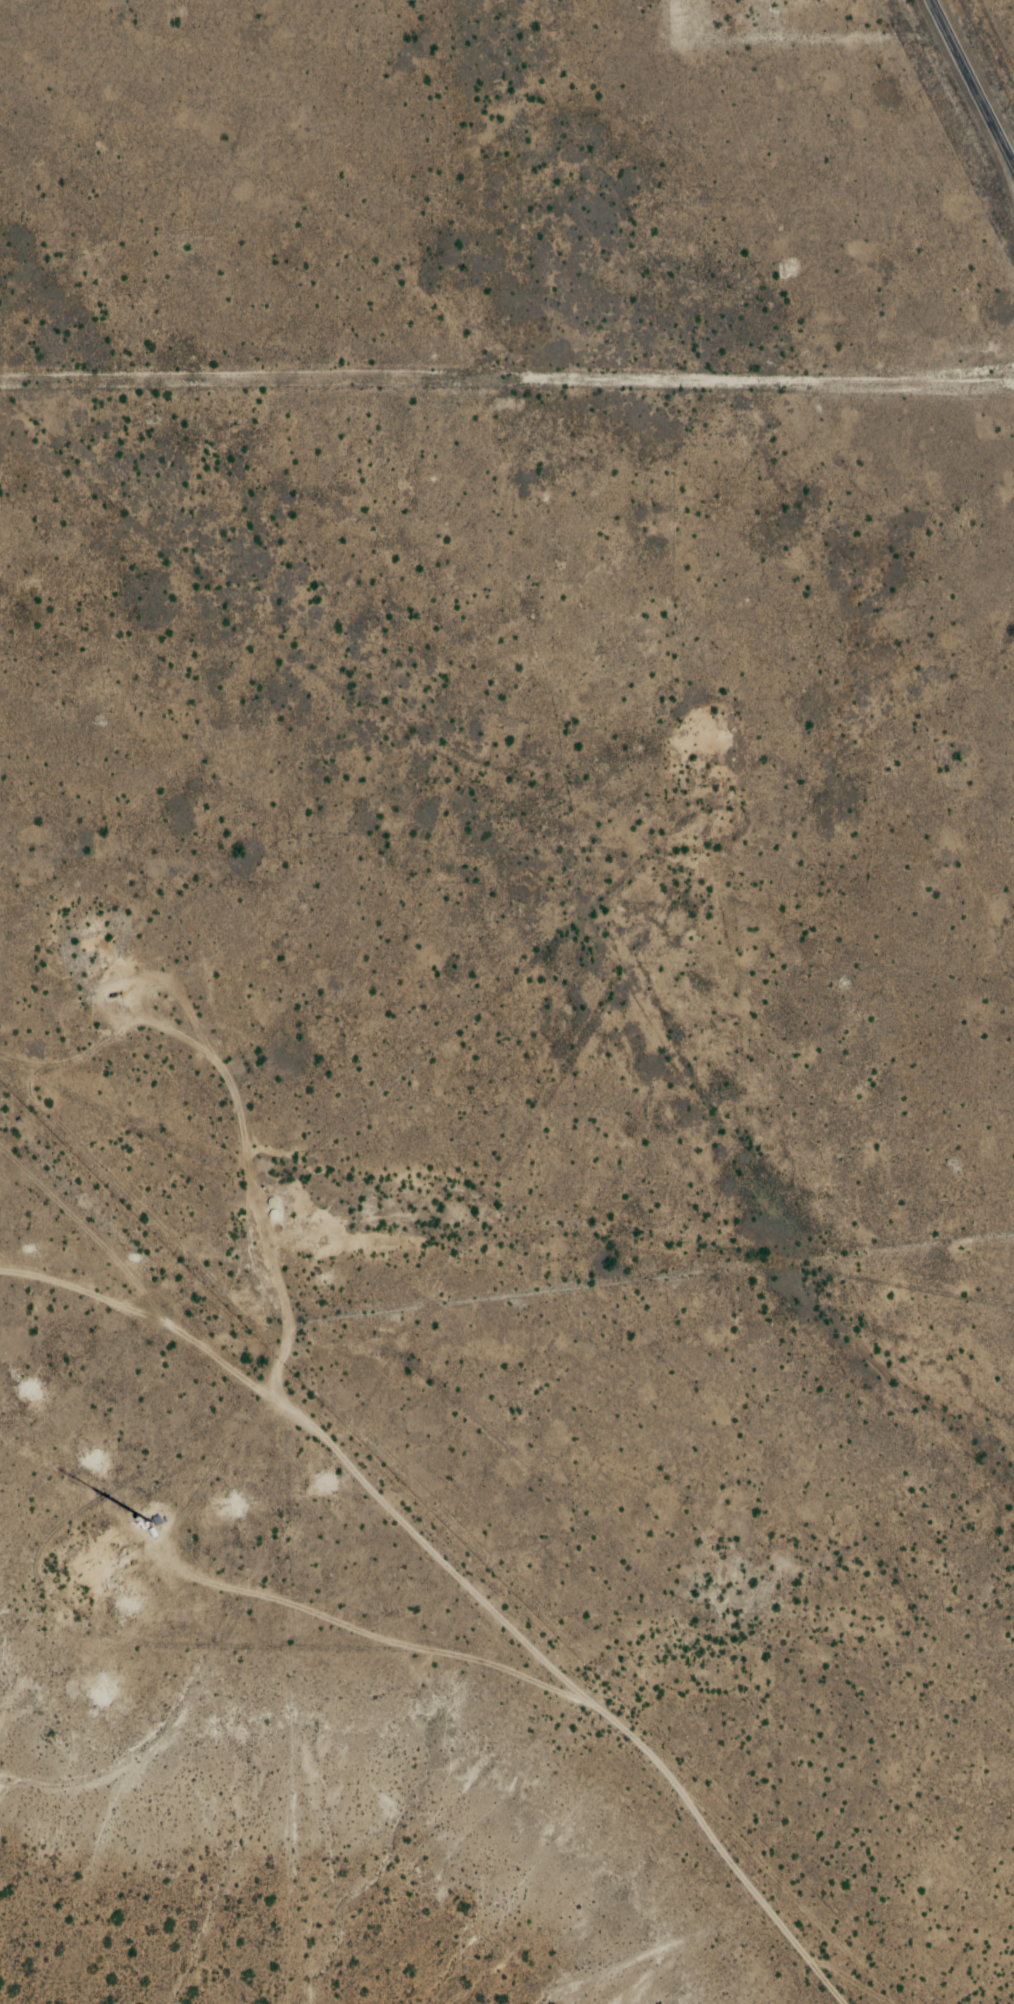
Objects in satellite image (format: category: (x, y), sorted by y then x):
road: (973, 81)
road: (247, 1183)
road: (325, 1431)
road: (582, 1689)

